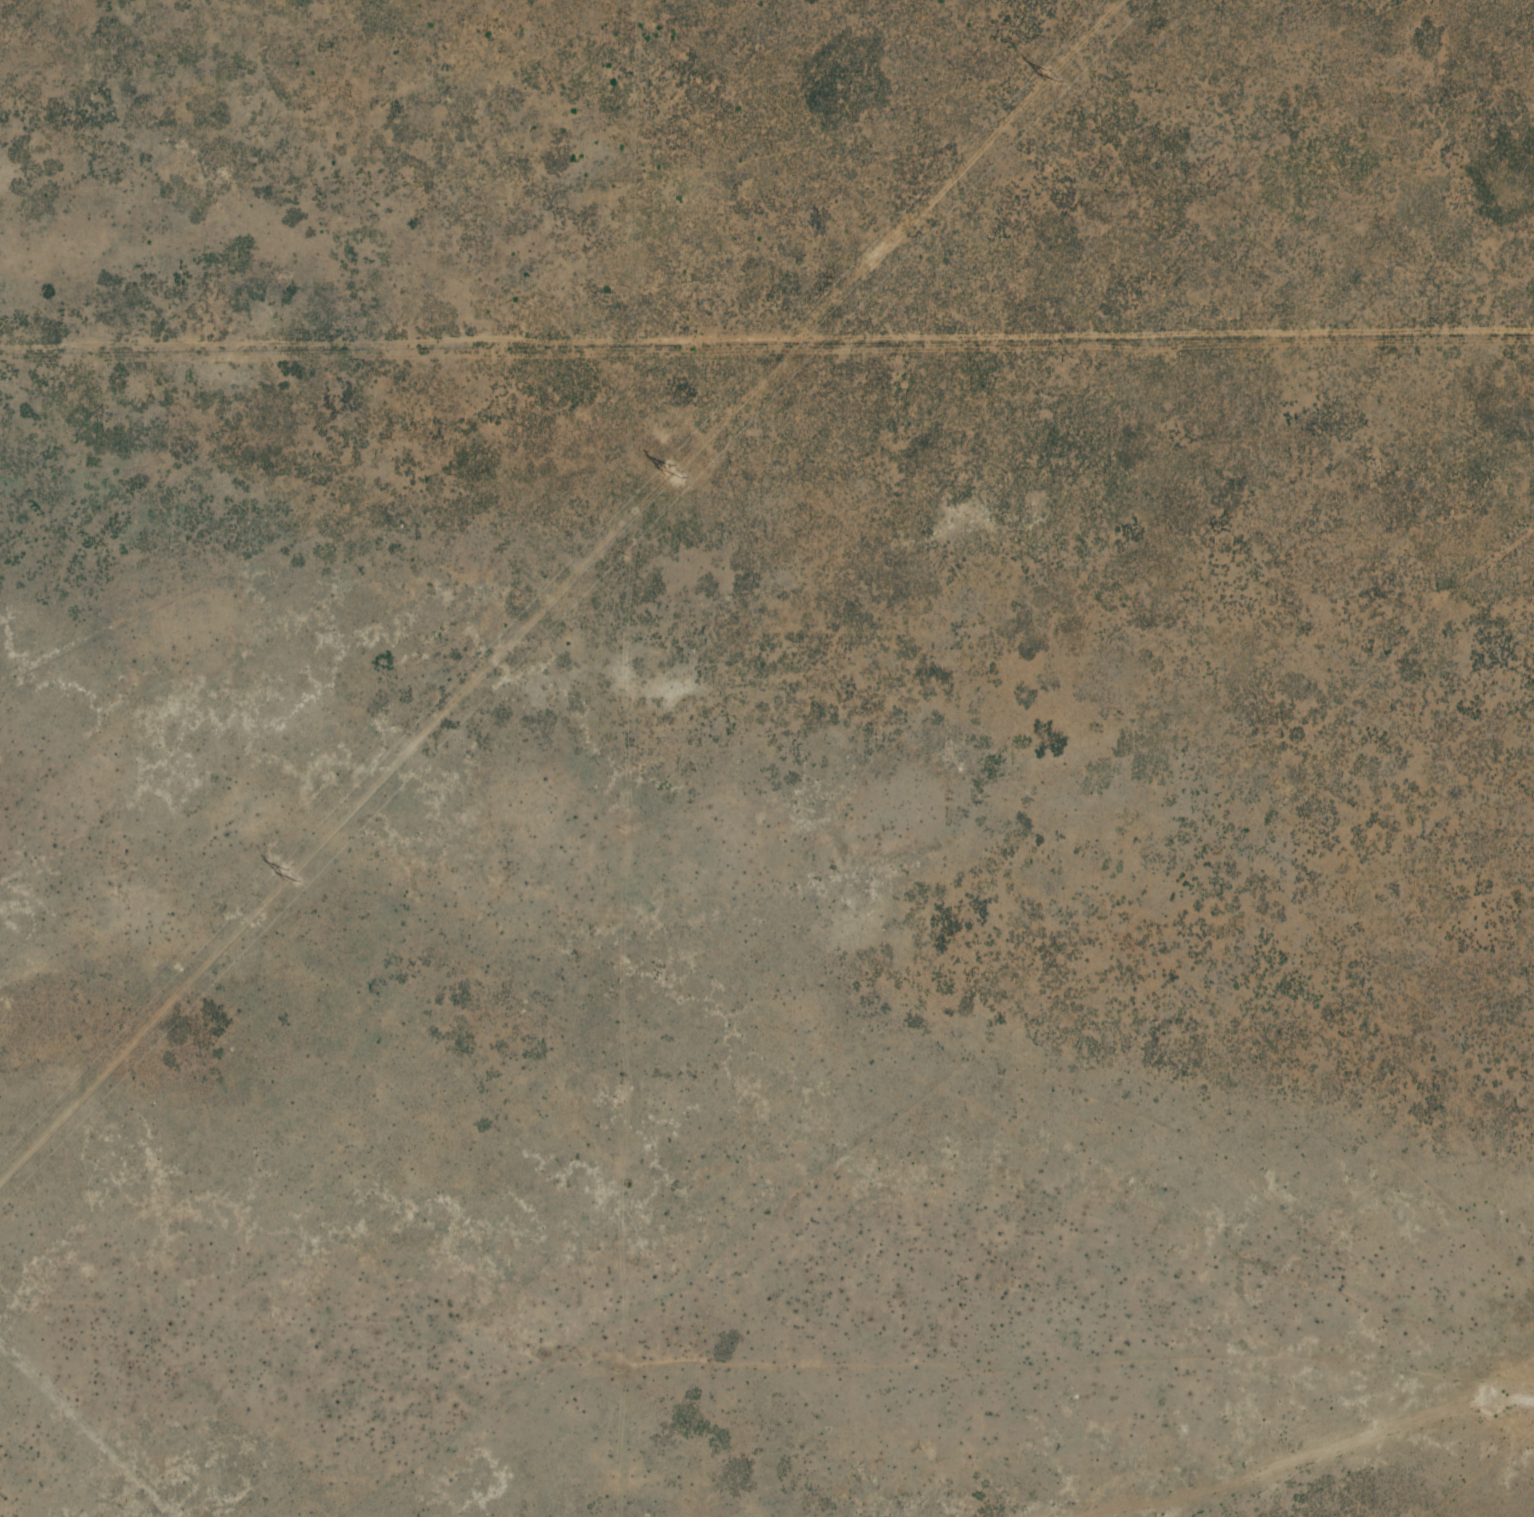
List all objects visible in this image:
power tower: (1051, 73)
power tower: (671, 473)
power tower: (291, 874)

